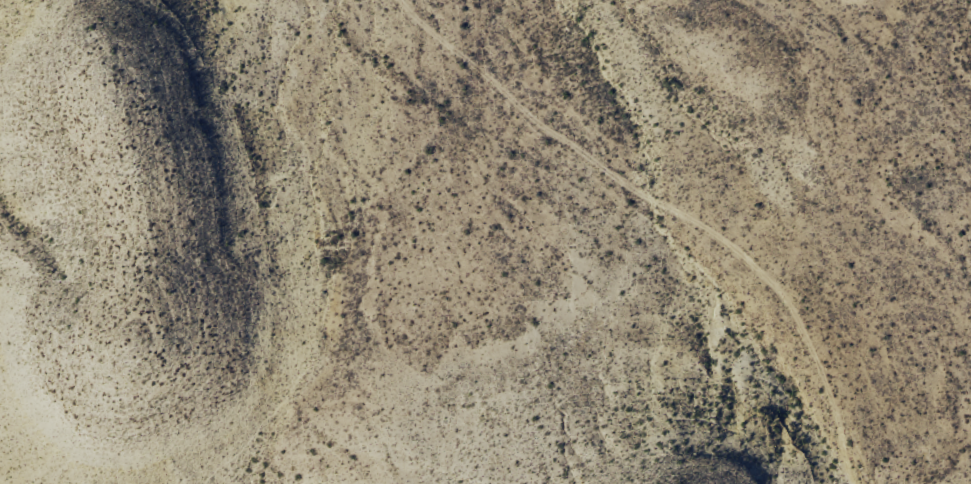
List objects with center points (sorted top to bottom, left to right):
road: (685, 211)

